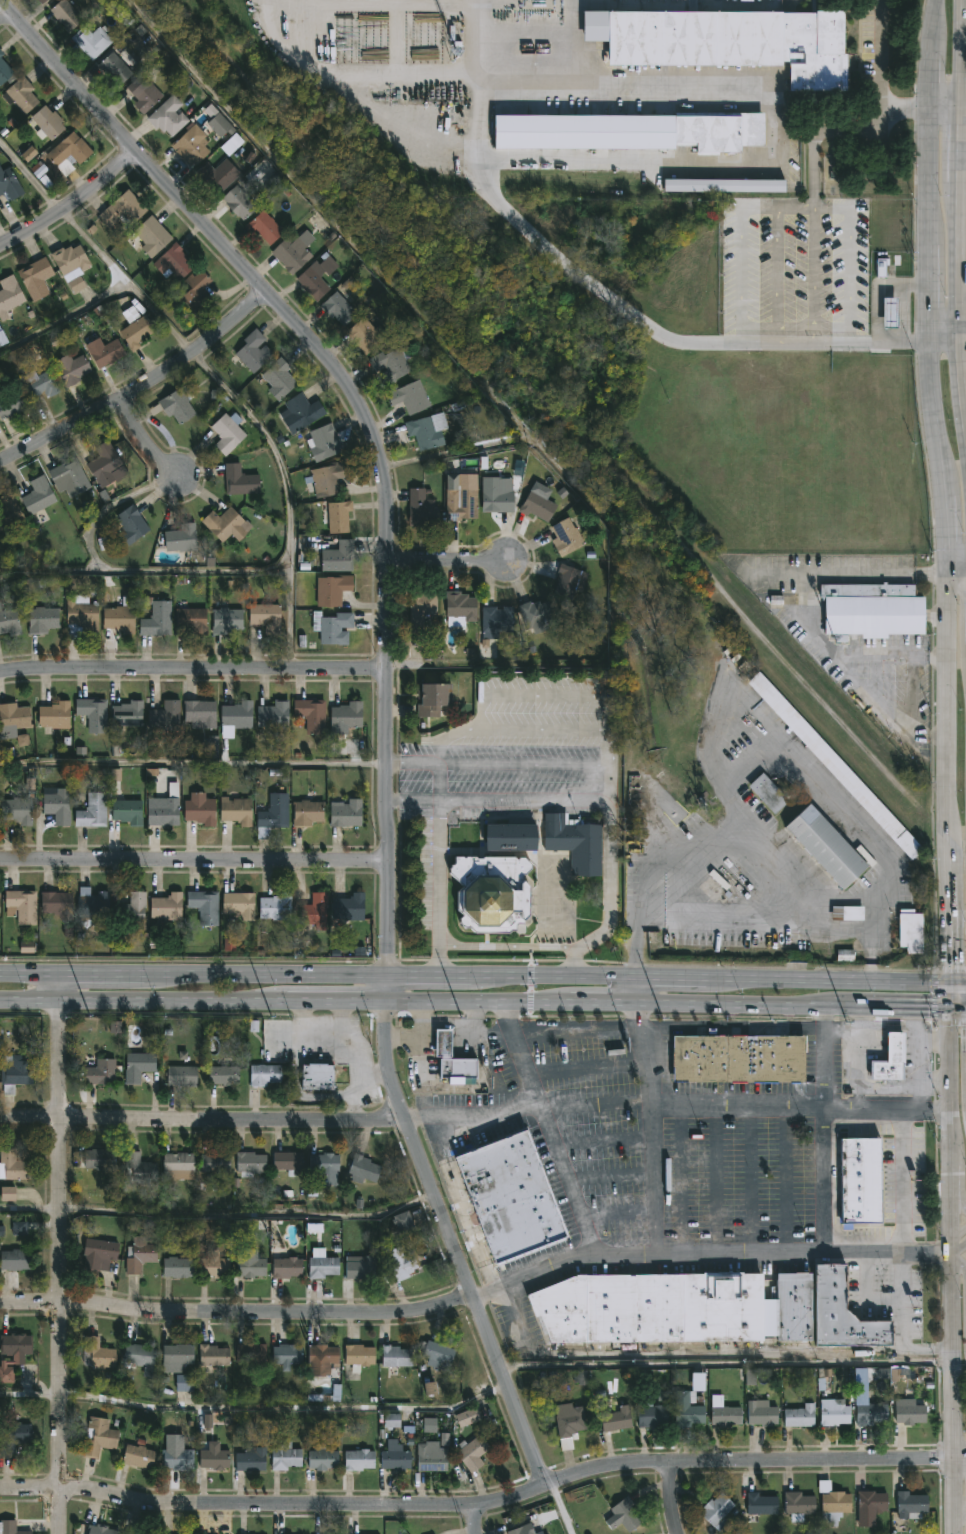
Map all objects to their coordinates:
building: (42, 1)
road: (3, 10)
building: (65, 14)
road: (472, 14)
building: (92, 41)
building: (737, 42)
building: (114, 68)
building: (4, 69)
road: (882, 76)
building: (143, 92)
building: (20, 93)
road: (947, 108)
building: (167, 115)
building: (45, 121)
building: (219, 124)
building: (719, 131)
building: (190, 143)
building: (68, 152)
building: (217, 175)
road: (963, 180)
building: (9, 183)
road: (71, 201)
building: (238, 201)
building: (122, 209)
building: (265, 226)
building: (152, 235)
road: (541, 238)
building: (293, 252)
building: (173, 261)
building: (70, 265)
building: (317, 276)
building: (35, 278)
building: (197, 291)
building: (9, 294)
building: (338, 308)
building: (890, 311)
road: (67, 321)
building: (135, 326)
road: (854, 328)
building: (366, 334)
road: (947, 337)
building: (2, 338)
building: (104, 351)
building: (251, 352)
building: (390, 363)
building: (71, 368)
road: (217, 375)
building: (279, 377)
building: (39, 383)
road: (140, 387)
road: (497, 393)
building: (409, 396)
building: (10, 402)
building: (178, 404)
building: (300, 412)
railway: (564, 417)
building: (227, 432)
building: (424, 432)
road: (148, 437)
building: (323, 442)
building: (104, 464)
building: (69, 477)
building: (240, 479)
building: (326, 479)
road: (943, 490)
building: (495, 494)
building: (36, 495)
building: (459, 500)
building: (537, 505)
building: (421, 509)
building: (9, 510)
road: (109, 514)
building: (336, 515)
building: (131, 524)
building: (226, 524)
building: (567, 537)
building: (181, 538)
building: (338, 556)
road: (448, 557)
road: (956, 564)
road: (144, 575)
building: (567, 582)
building: (333, 590)
road: (811, 606)
building: (459, 608)
building: (420, 609)
building: (872, 610)
building: (537, 615)
building: (81, 616)
building: (119, 618)
building: (266, 618)
building: (42, 619)
building: (156, 620)
building: (191, 620)
building: (226, 620)
building: (9, 621)
building: (495, 623)
building: (332, 627)
road: (193, 668)
road: (387, 688)
road: (562, 696)
building: (433, 699)
road: (477, 712)
road: (882, 712)
building: (93, 713)
building: (127, 713)
building: (200, 714)
building: (238, 714)
building: (274, 714)
building: (312, 714)
building: (54, 715)
building: (165, 717)
building: (346, 717)
building: (12, 719)
road: (533, 728)
road: (439, 736)
road: (605, 747)
road: (410, 758)
road: (767, 758)
road: (521, 761)
building: (835, 765)
road: (193, 767)
parking lot: (514, 778)
road: (437, 780)
road: (608, 784)
building: (768, 793)
road: (412, 799)
road: (523, 802)
building: (57, 806)
building: (200, 809)
building: (17, 810)
building: (92, 811)
building: (127, 811)
building: (236, 811)
building: (164, 813)
building: (307, 813)
building: (346, 814)
building: (273, 815)
building: (550, 841)
railway: (957, 845)
building: (826, 846)
road: (194, 864)
road: (437, 886)
building: (490, 893)
road: (614, 900)
building: (57, 904)
building: (92, 904)
building: (204, 905)
building: (238, 905)
building: (0, 906)
building: (21, 906)
building: (166, 906)
building: (276, 907)
building: (348, 908)
building: (315, 912)
building: (131, 913)
building: (847, 913)
building: (910, 931)
road: (504, 947)
road: (950, 968)
road: (474, 971)
traffic signals: (949, 981)
road: (957, 981)
road: (634, 988)
road: (948, 993)
road: (935, 995)
road: (460, 1001)
road: (934, 1006)
traffic signals: (948, 1006)
road: (957, 1006)
road: (921, 1017)
power tower: (461, 1018)
power tower: (848, 1022)
road: (950, 1022)
road: (949, 1025)
road: (883, 1028)
road: (924, 1037)
road: (326, 1041)
building: (442, 1042)
road: (938, 1045)
road: (647, 1055)
building: (738, 1058)
building: (891, 1058)
building: (138, 1065)
building: (100, 1070)
building: (15, 1072)
building: (224, 1074)
building: (264, 1074)
building: (182, 1075)
building: (317, 1075)
road: (375, 1076)
road: (926, 1078)
road: (361, 1080)
road: (677, 1107)
road: (203, 1120)
road: (548, 1129)
road: (825, 1129)
building: (99, 1158)
building: (288, 1161)
building: (178, 1163)
building: (215, 1163)
building: (250, 1163)
building: (14, 1165)
building: (139, 1167)
building: (325, 1167)
building: (363, 1168)
building: (860, 1179)
road: (655, 1181)
road: (962, 1184)
building: (510, 1195)
road: (219, 1217)
building: (403, 1221)
road: (960, 1232)
road: (960, 1250)
road: (60, 1254)
building: (139, 1254)
road: (710, 1254)
building: (100, 1255)
road: (904, 1257)
building: (15, 1259)
building: (400, 1262)
building: (321, 1263)
road: (960, 1263)
building: (214, 1264)
building: (250, 1265)
building: (178, 1267)
building: (287, 1267)
building: (361, 1268)
road: (953, 1289)
building: (652, 1307)
road: (238, 1311)
building: (842, 1313)
building: (15, 1343)
building: (251, 1353)
building: (96, 1354)
building: (139, 1354)
building: (358, 1354)
building: (437, 1354)
building: (286, 1355)
building: (176, 1356)
building: (213, 1356)
building: (395, 1358)
building: (321, 1359)
road: (727, 1364)
building: (28, 1374)
building: (6, 1376)
building: (688, 1409)
road: (256, 1412)
building: (723, 1412)
building: (871, 1412)
building: (762, 1413)
building: (834, 1413)
building: (911, 1413)
building: (653, 1416)
building: (800, 1416)
building: (468, 1418)
building: (617, 1418)
building: (569, 1419)
building: (14, 1435)
building: (99, 1436)
building: (472, 1451)
building: (138, 1455)
building: (177, 1457)
building: (214, 1457)
building: (285, 1457)
building: (395, 1457)
building: (431, 1457)
building: (250, 1458)
building: (322, 1458)
building: (358, 1459)
road: (959, 1465)
road: (673, 1500)
building: (873, 1501)
building: (833, 1502)
building: (762, 1504)
building: (799, 1504)
building: (912, 1505)
road: (960, 1507)
road: (478, 1509)
road: (563, 1509)
building: (717, 1510)
building: (624, 1515)
road: (477, 1522)
building: (10, 1528)
building: (101, 1529)
building: (518, 1531)
building: (133, 1532)

